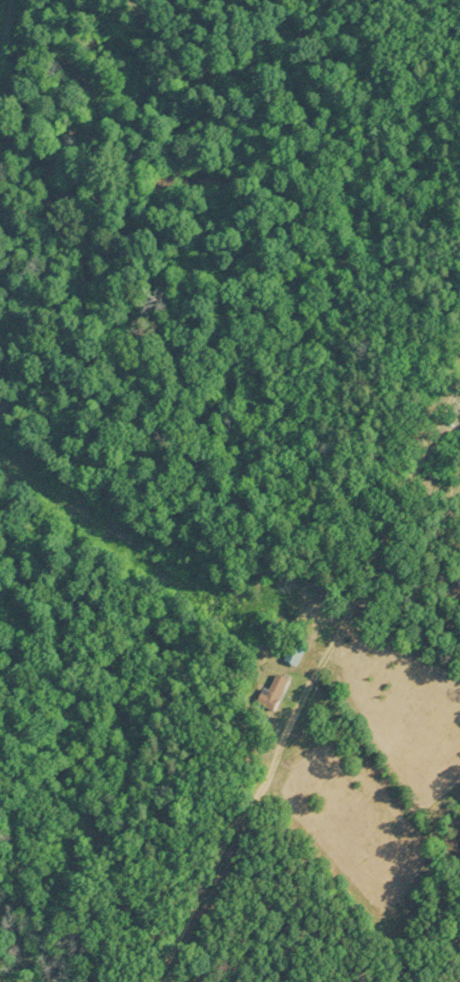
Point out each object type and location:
building: (293, 654)
road: (206, 916)

